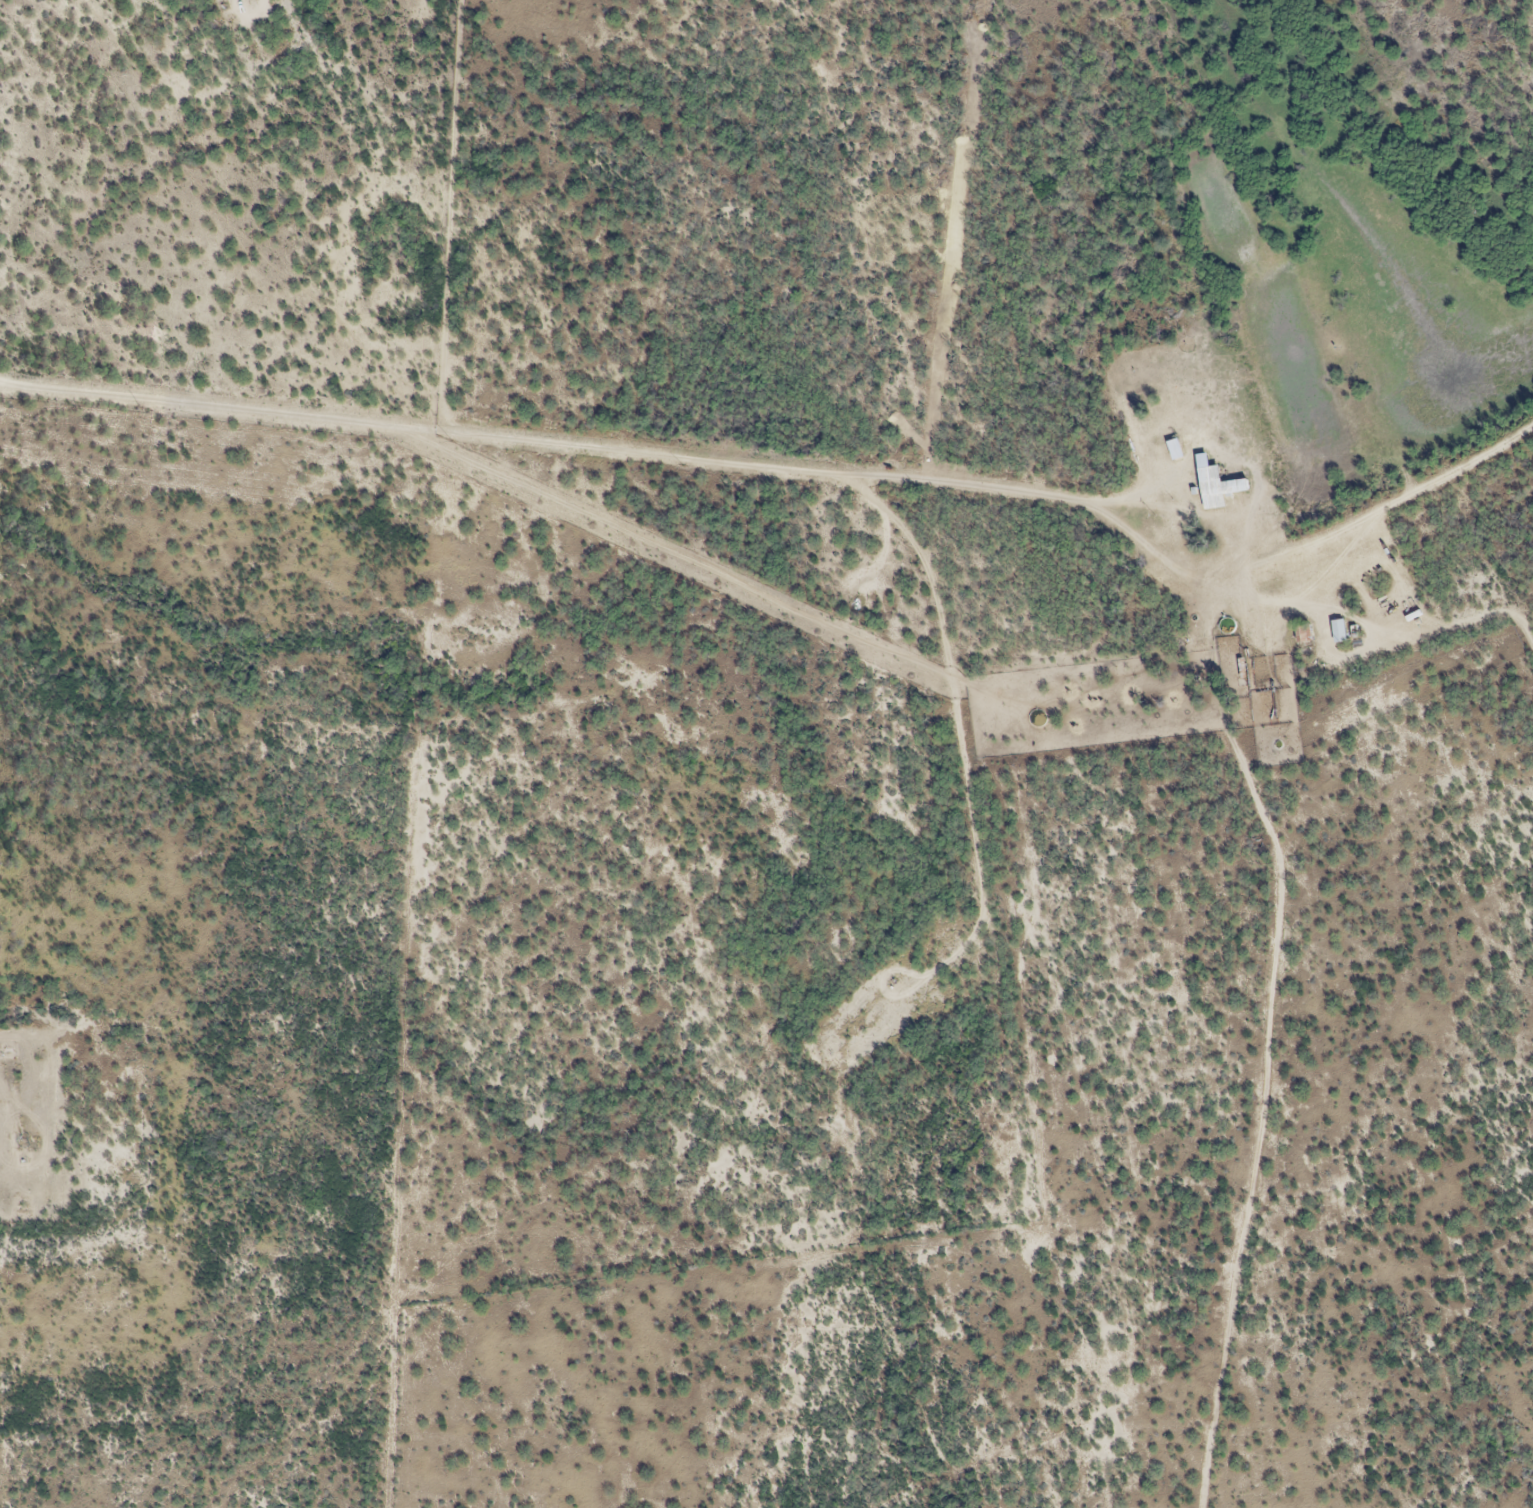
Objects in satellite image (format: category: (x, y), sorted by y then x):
road: (801, 479)
building: (1217, 499)
building: (1342, 624)

